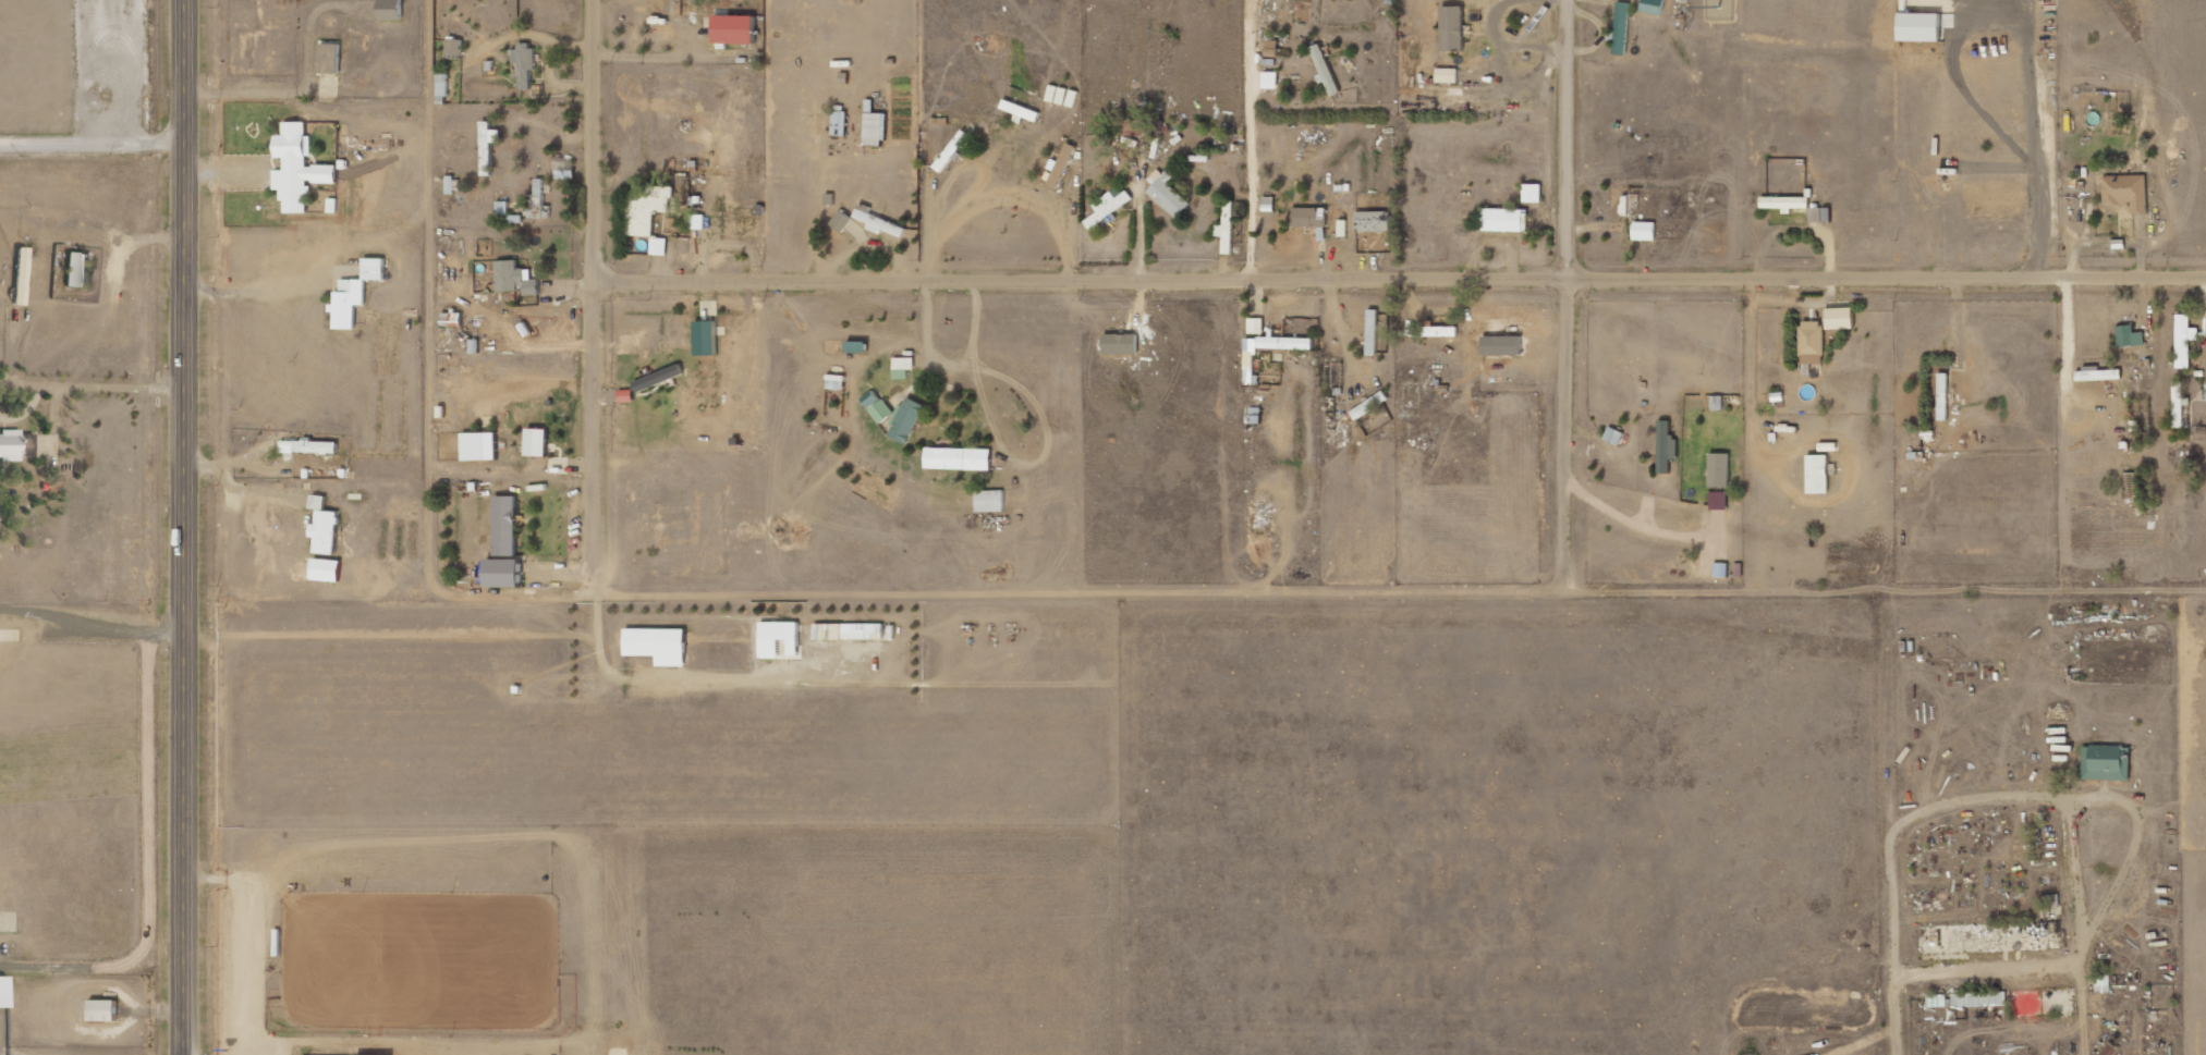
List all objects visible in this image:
building: (1652, 7)
building: (390, 10)
building: (1451, 27)
building: (732, 28)
building: (1621, 28)
building: (453, 47)
building: (328, 58)
building: (524, 63)
building: (1324, 69)
building: (1446, 75)
building: (1269, 79)
building: (839, 121)
building: (1143, 126)
building: (874, 128)
building: (324, 173)
building: (2125, 192)
building: (1532, 193)
building: (1166, 194)
building: (537, 203)
building: (1783, 203)
building: (1268, 204)
building: (1108, 206)
building: (646, 209)
building: (1815, 214)
building: (1308, 217)
building: (1504, 219)
building: (840, 221)
building: (1372, 221)
building: (881, 224)
building: (1226, 228)
building: (1341, 228)
building: (1643, 231)
road: (1270, 236)
building: (658, 246)
building: (373, 269)
building: (76, 270)
road: (1400, 277)
building: (513, 279)
road: (1567, 295)
road: (596, 296)
building: (346, 303)
building: (1839, 318)
building: (1255, 326)
building: (1372, 332)
building: (703, 335)
building: (2129, 336)
building: (2183, 340)
building: (1811, 342)
building: (1120, 343)
building: (1284, 343)
building: (1250, 348)
building: (903, 366)
building: (2096, 373)
building: (659, 377)
building: (625, 395)
building: (1943, 396)
building: (2177, 404)
building: (1368, 405)
building: (881, 410)
building: (906, 420)
building: (1613, 436)
building: (535, 442)
building: (15, 445)
building: (309, 446)
building: (478, 446)
building: (1665, 447)
building: (958, 458)
building: (1718, 469)
building: (1817, 474)
building: (1718, 500)
building: (989, 501)
airport: (70, 524)
building: (504, 526)
road: (187, 527)
building: (325, 532)
building: (1720, 569)
building: (501, 573)
road: (1401, 590)
building: (848, 631)
building: (778, 640)
building: (656, 645)
building: (2105, 762)
road: (1775, 979)
building: (2103, 983)
building: (1978, 998)
building: (101, 1009)

